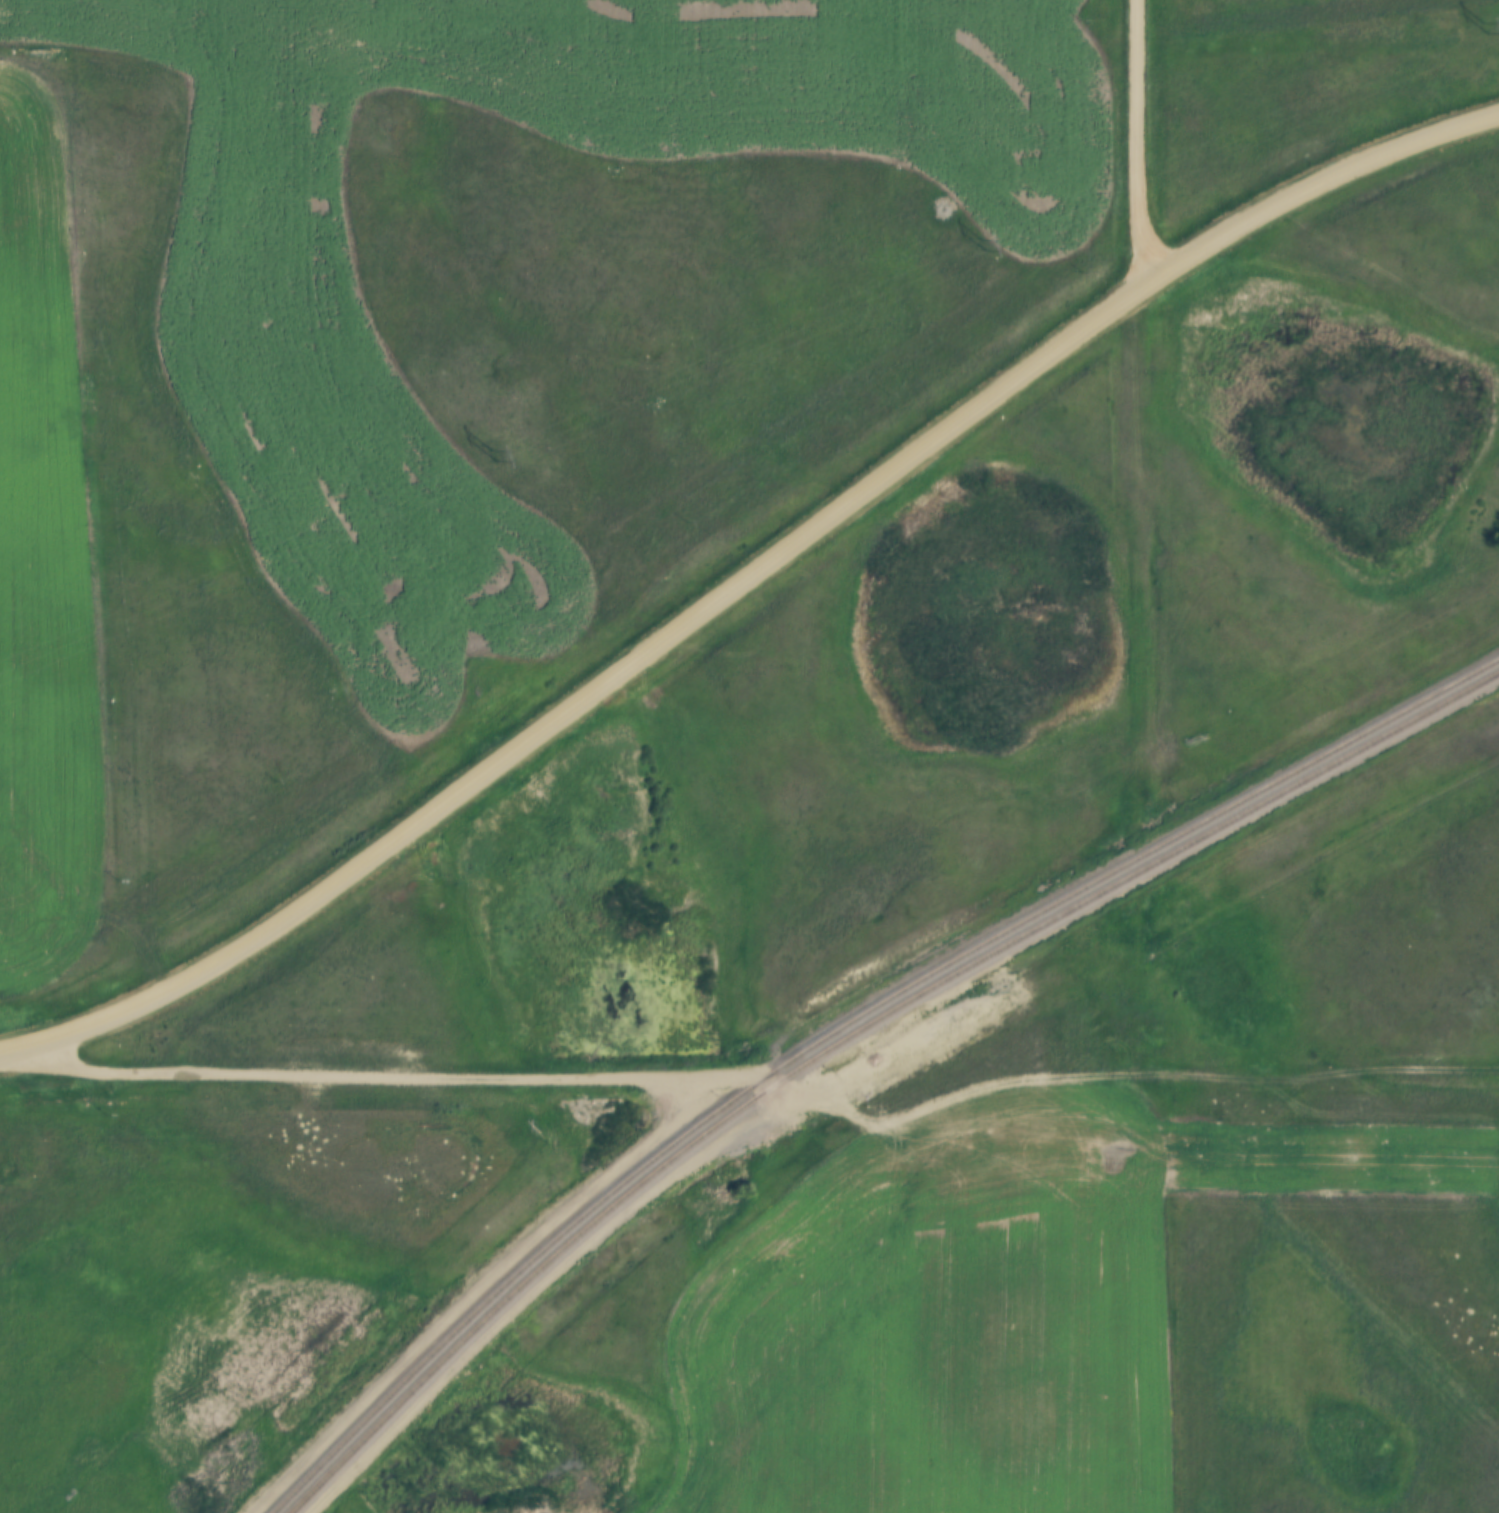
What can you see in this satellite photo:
power tower: (1484, 27)
road: (1143, 142)
power tower: (982, 244)
power tower: (492, 453)
road: (761, 570)
railway: (842, 1025)
railway: (852, 1034)
road: (18, 1050)
road: (457, 1074)
road: (1183, 1079)
road: (750, 1308)

